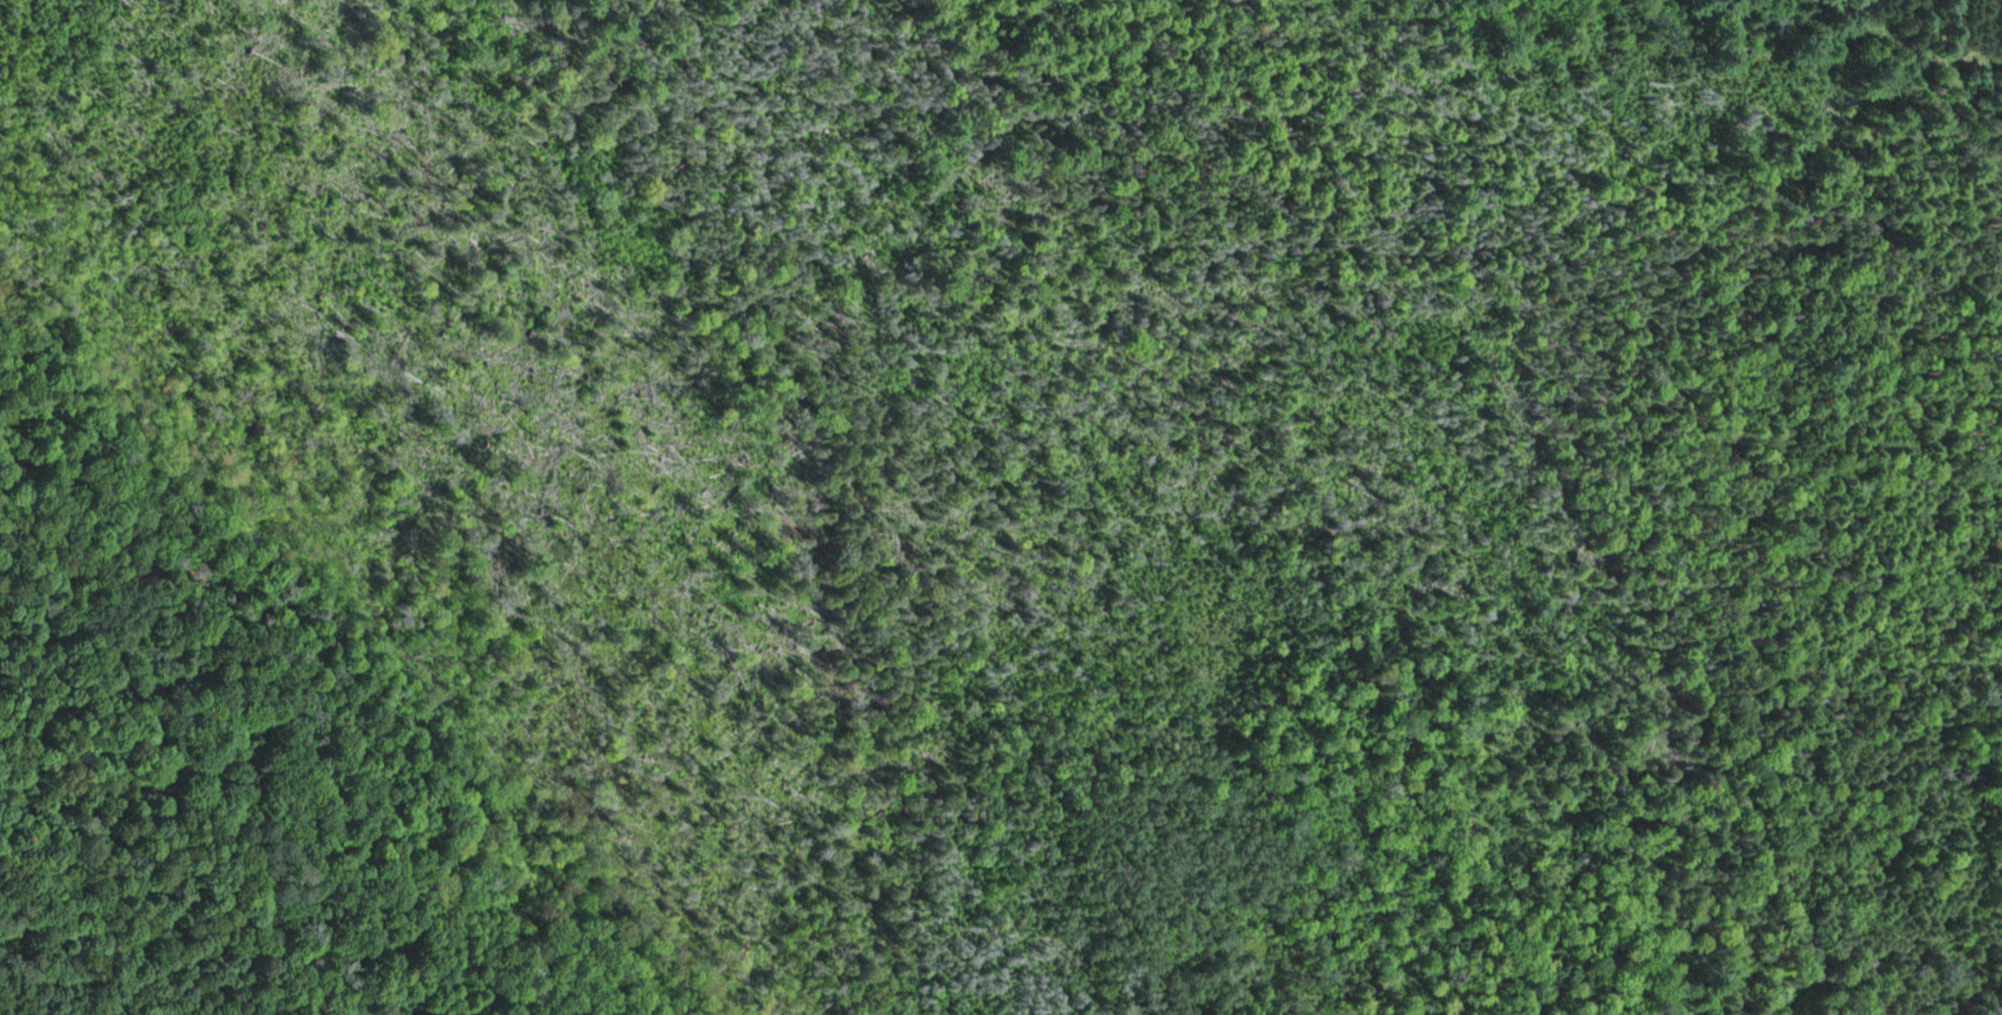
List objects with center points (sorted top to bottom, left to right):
road: (161, 763)

